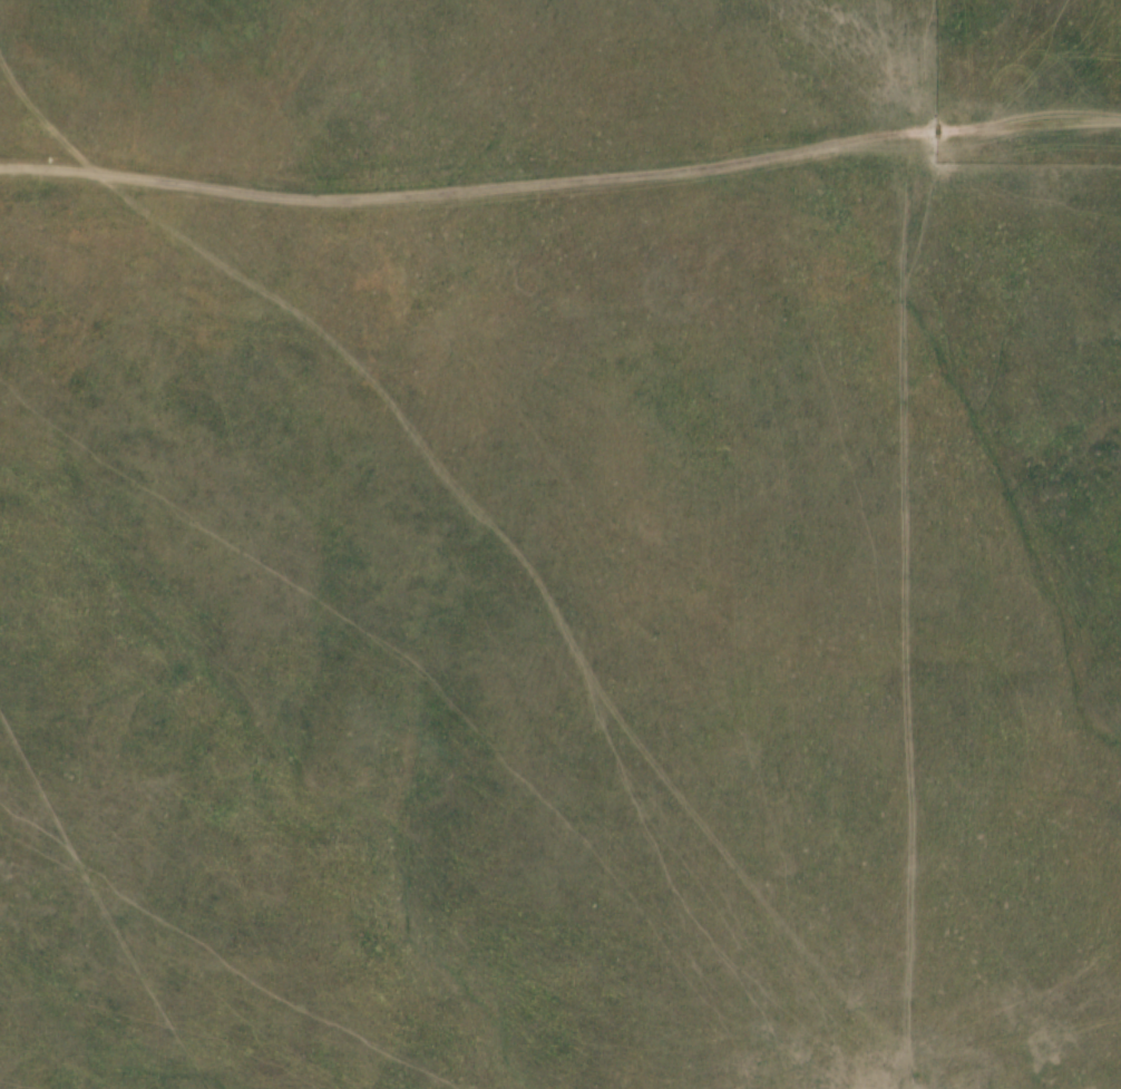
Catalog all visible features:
road: (562, 159)

